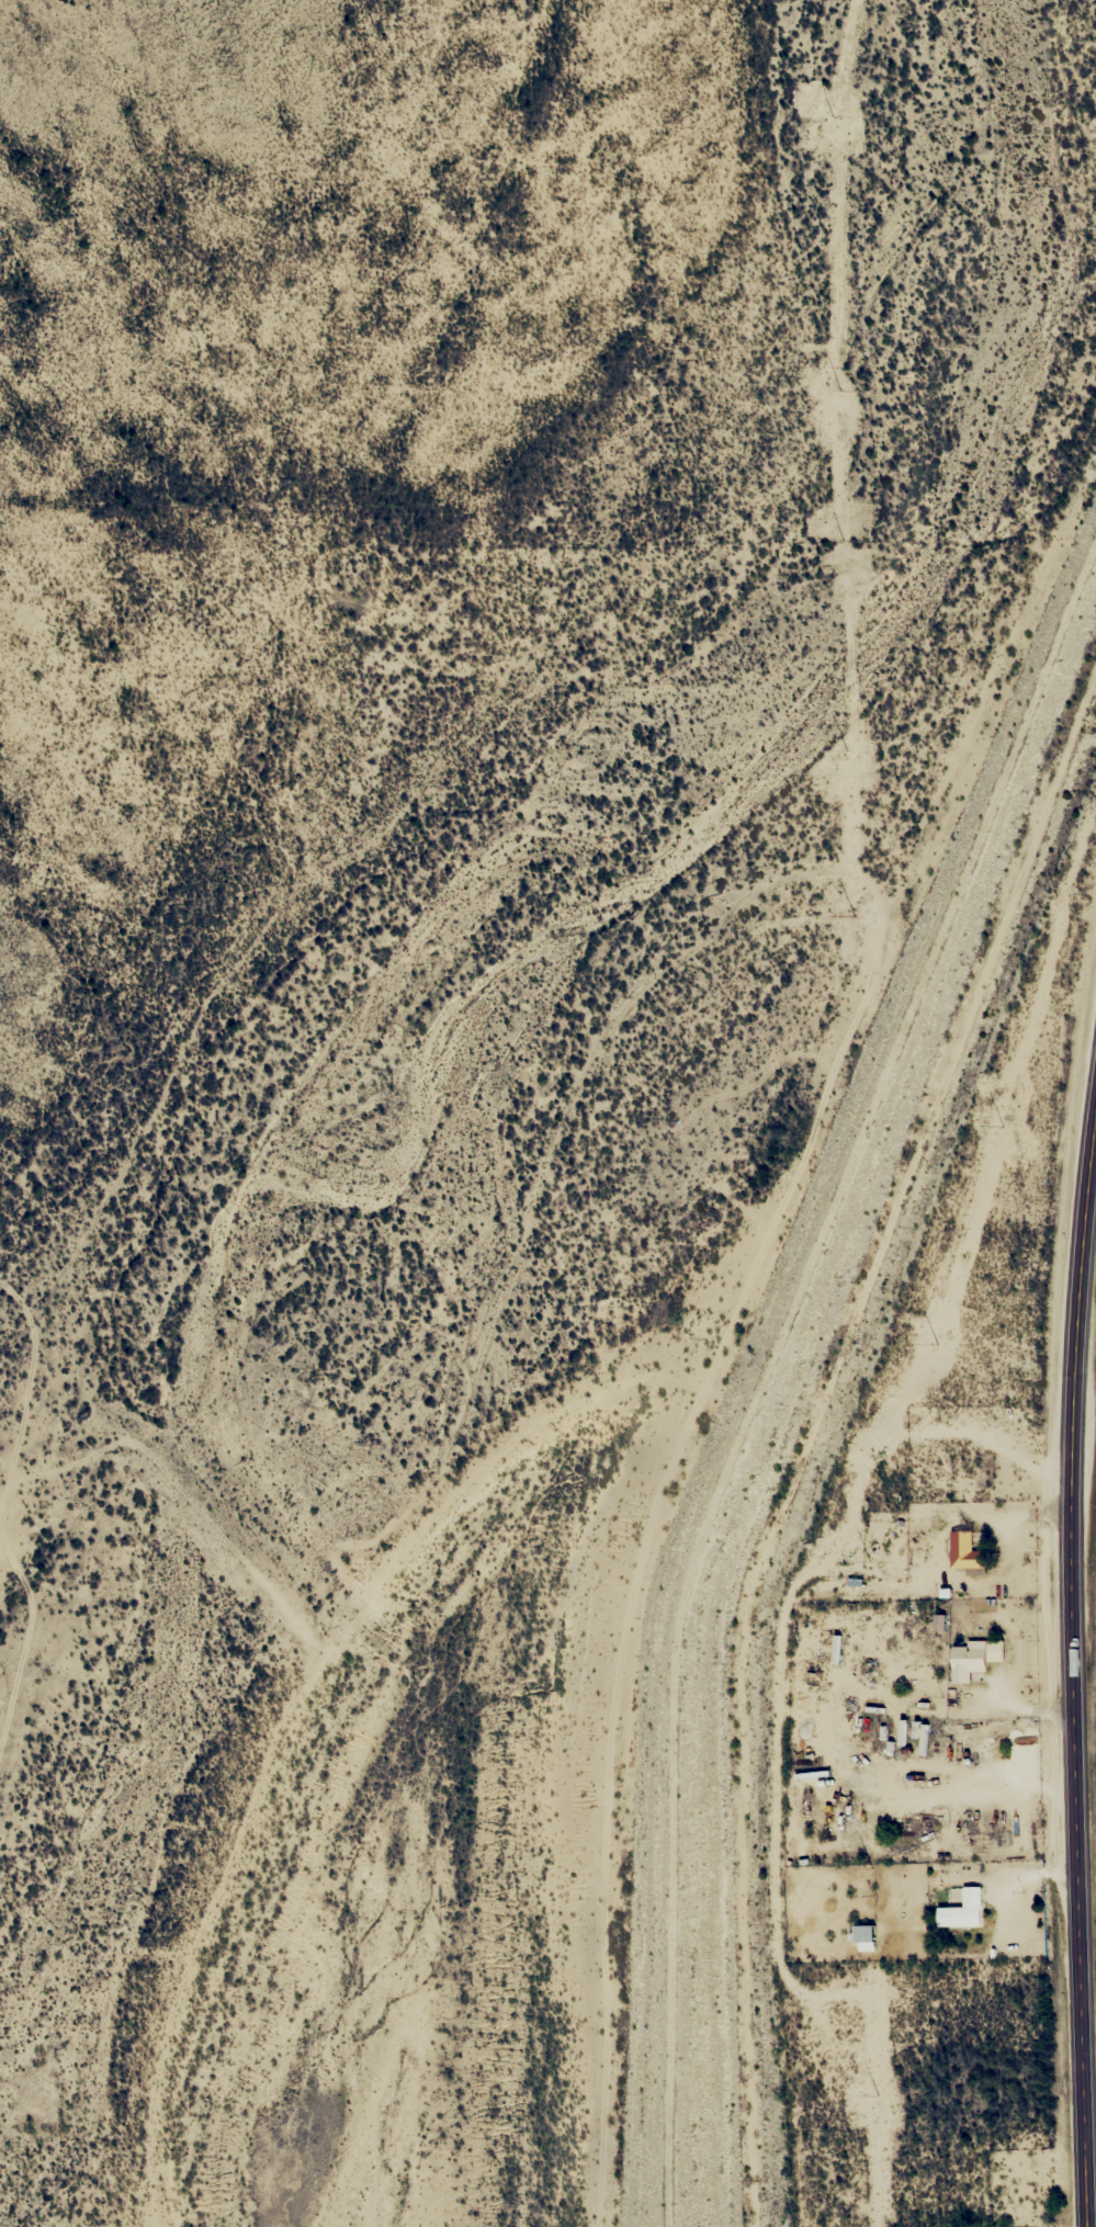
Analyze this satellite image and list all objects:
building: (965, 1555)
building: (973, 1658)
road: (1071, 1664)
building: (962, 1904)
building: (865, 1937)

